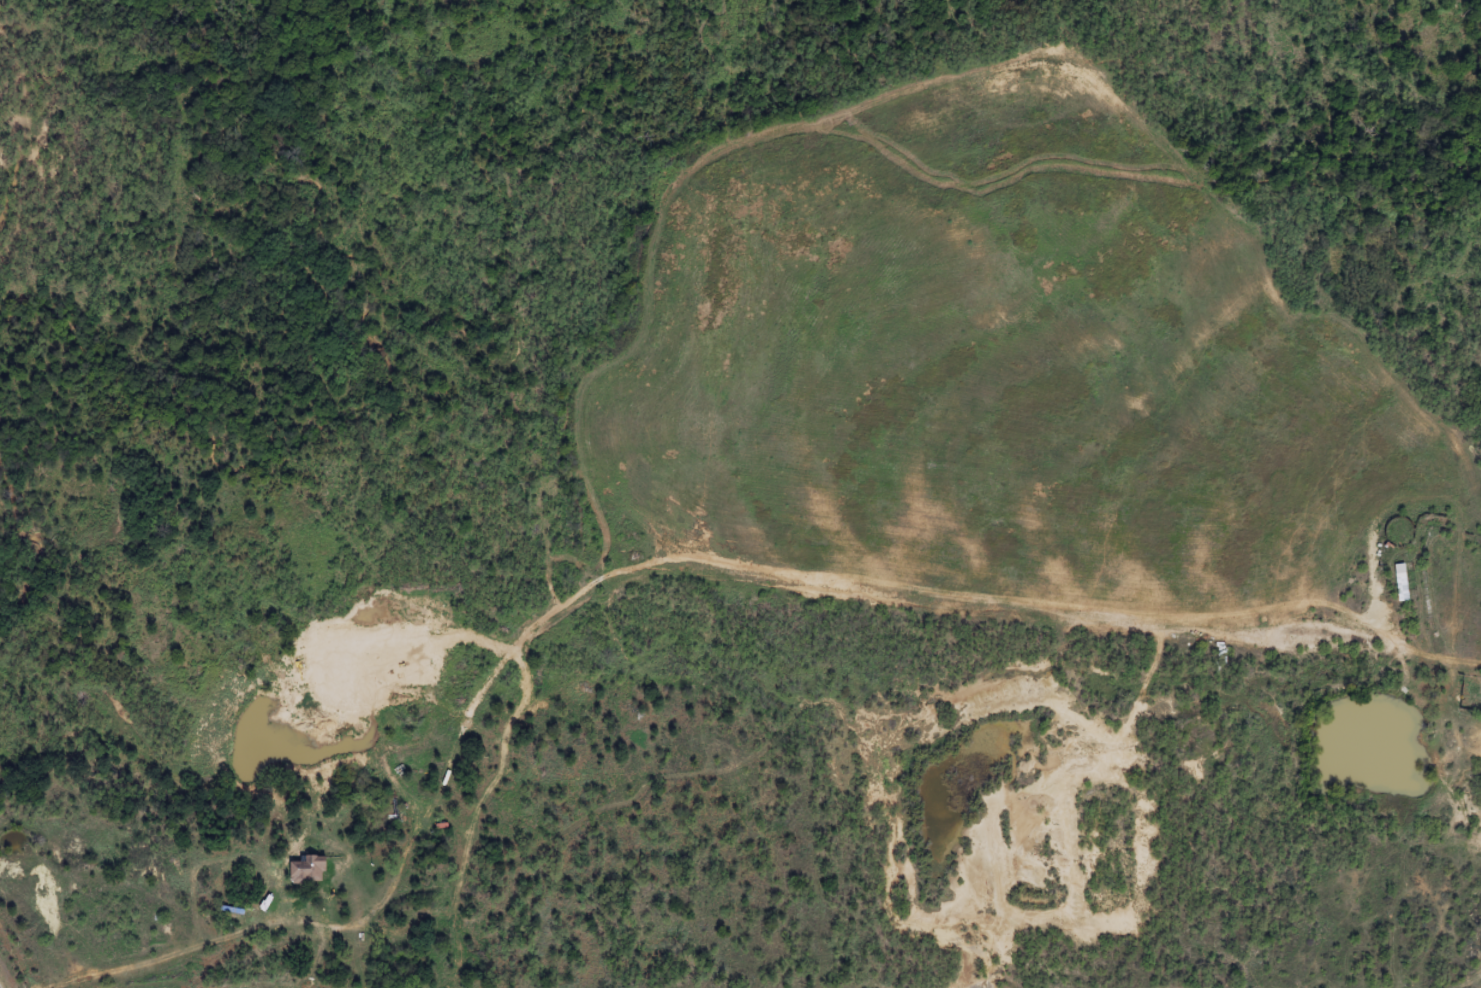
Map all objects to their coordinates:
building: (1397, 581)
building: (302, 868)

